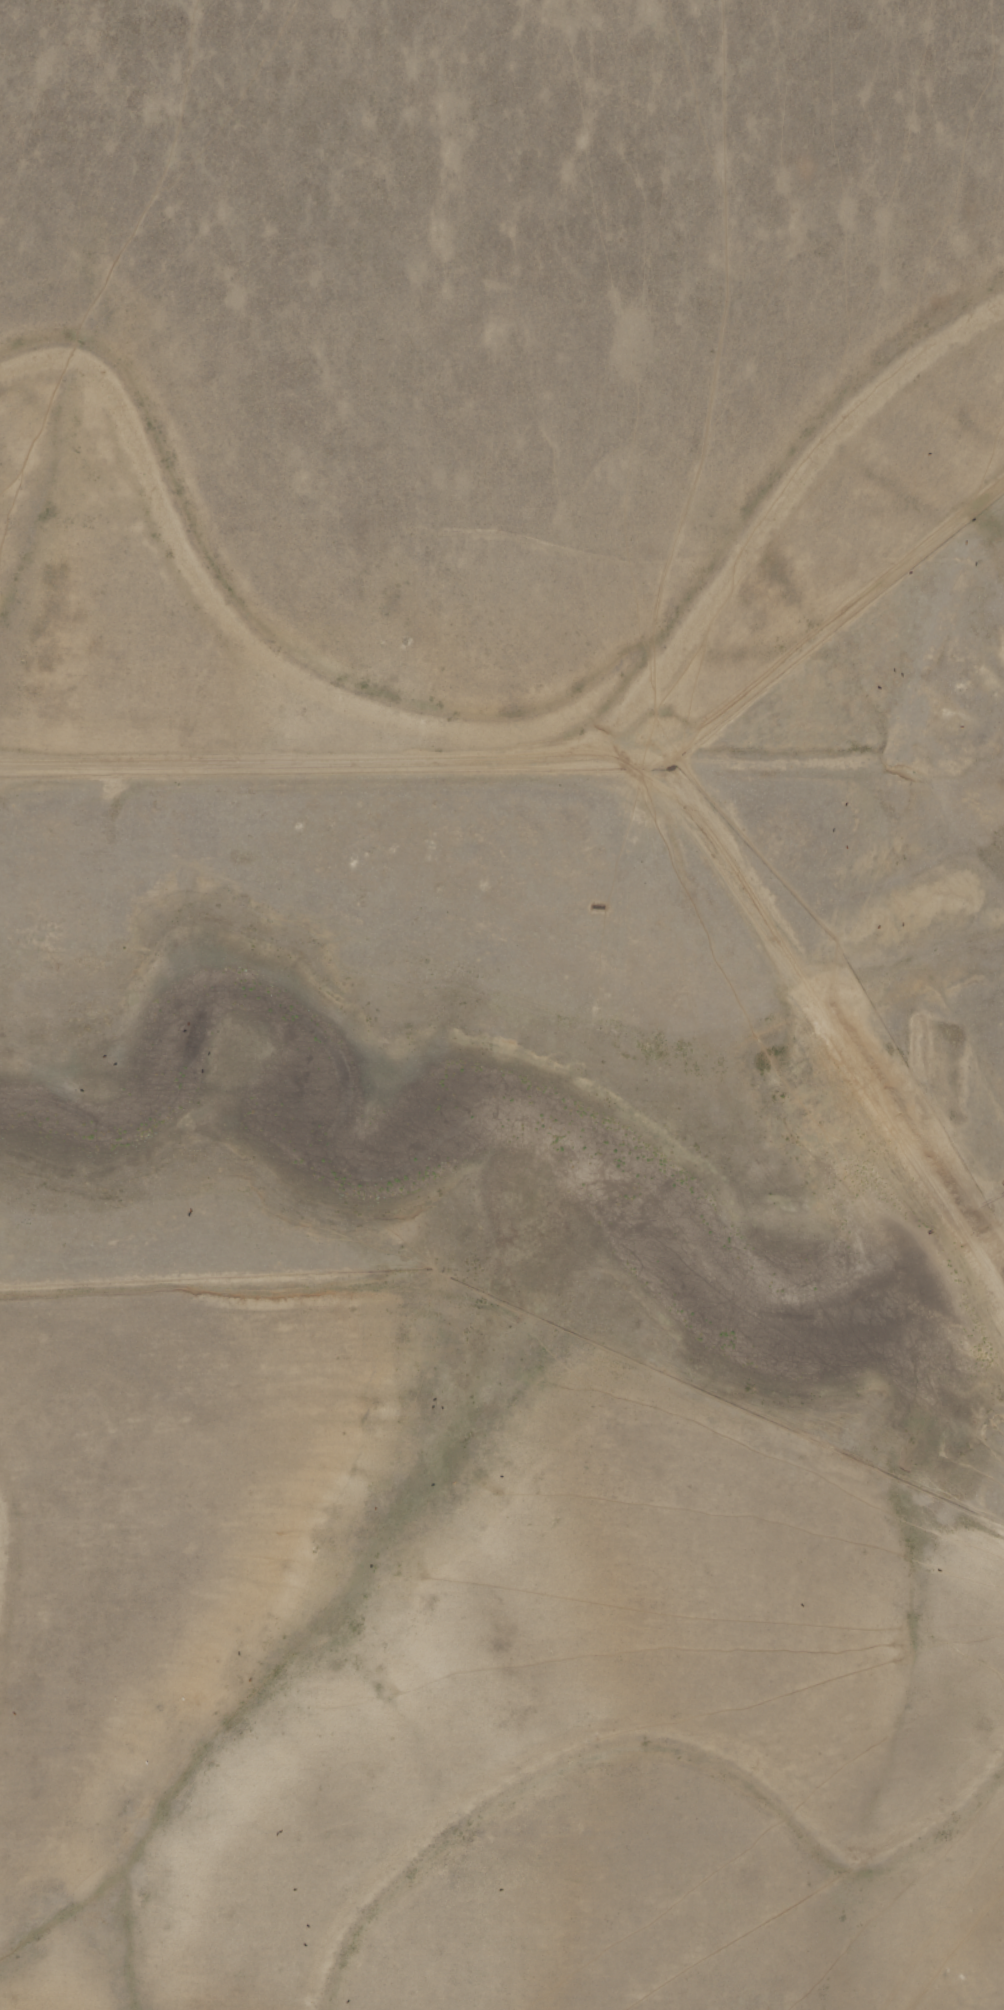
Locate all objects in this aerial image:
road: (446, 798)
road: (895, 865)

